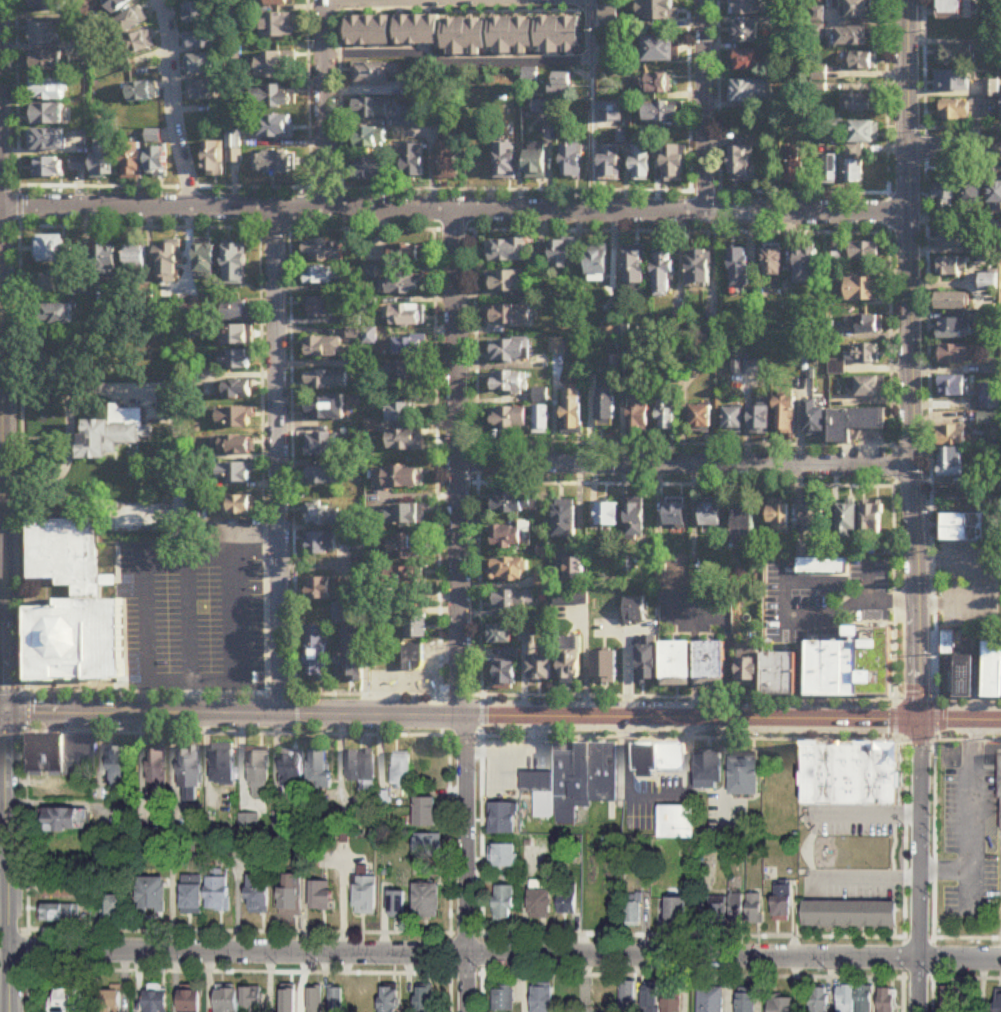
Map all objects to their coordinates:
building: (276, 3)
building: (46, 5)
building: (116, 5)
building: (747, 7)
building: (859, 9)
building: (949, 9)
building: (657, 10)
building: (198, 14)
building: (236, 16)
building: (131, 21)
building: (280, 26)
building: (417, 30)
building: (368, 31)
building: (48, 33)
building: (744, 33)
building: (510, 36)
building: (557, 36)
building: (464, 37)
building: (855, 37)
building: (201, 40)
building: (139, 44)
building: (658, 50)
building: (611, 56)
building: (951, 56)
building: (47, 62)
building: (745, 62)
building: (862, 62)
road: (455, 64)
building: (200, 65)
building: (277, 67)
building: (377, 74)
building: (952, 82)
building: (656, 85)
building: (991, 90)
building: (47, 91)
building: (203, 92)
building: (142, 93)
building: (750, 93)
building: (272, 98)
road: (325, 104)
road: (175, 105)
building: (859, 105)
road: (589, 107)
road: (703, 107)
building: (369, 110)
building: (611, 112)
building: (953, 112)
building: (662, 113)
building: (47, 115)
building: (276, 128)
building: (833, 128)
building: (370, 139)
building: (47, 141)
building: (235, 147)
building: (858, 147)
road: (310, 149)
road: (955, 150)
building: (214, 160)
building: (102, 161)
building: (446, 161)
building: (132, 162)
building: (156, 162)
building: (413, 162)
building: (505, 162)
building: (535, 162)
building: (571, 162)
building: (610, 162)
building: (640, 163)
building: (274, 164)
building: (673, 165)
building: (740, 165)
building: (793, 166)
building: (47, 168)
building: (371, 170)
building: (826, 171)
road: (19, 172)
road: (189, 187)
building: (971, 195)
building: (944, 197)
building: (995, 198)
road: (454, 212)
road: (258, 227)
road: (275, 228)
road: (455, 230)
road: (435, 231)
road: (889, 233)
building: (950, 239)
building: (52, 249)
building: (507, 250)
building: (322, 252)
building: (863, 252)
building: (562, 254)
building: (404, 255)
building: (106, 258)
building: (136, 259)
building: (205, 261)
building: (538, 261)
building: (833, 262)
building: (168, 263)
building: (597, 263)
building: (773, 263)
building: (234, 264)
building: (635, 266)
building: (806, 267)
building: (739, 268)
building: (953, 268)
building: (699, 269)
building: (663, 275)
building: (320, 277)
building: (55, 282)
building: (989, 283)
building: (509, 284)
building: (401, 285)
building: (862, 290)
building: (952, 303)
building: (319, 309)
building: (237, 312)
building: (56, 315)
building: (510, 315)
building: (406, 316)
building: (867, 325)
building: (955, 330)
building: (802, 332)
building: (237, 336)
building: (558, 346)
building: (323, 348)
building: (409, 349)
building: (507, 351)
building: (862, 355)
building: (955, 356)
road: (912, 360)
building: (235, 361)
building: (752, 366)
building: (404, 373)
building: (325, 381)
building: (509, 383)
building: (952, 387)
building: (867, 388)
building: (235, 390)
road: (930, 395)
building: (989, 397)
building: (606, 408)
building: (324, 409)
building: (542, 412)
building: (572, 412)
building: (398, 413)
building: (640, 415)
building: (667, 416)
building: (785, 417)
building: (235, 418)
building: (701, 418)
building: (813, 419)
building: (508, 420)
building: (733, 420)
building: (760, 420)
building: (988, 420)
road: (71, 423)
building: (854, 424)
building: (372, 427)
building: (113, 434)
building: (951, 436)
building: (406, 440)
building: (324, 445)
building: (234, 447)
road: (281, 462)
road: (479, 462)
building: (950, 463)
road: (459, 465)
road: (687, 465)
road: (895, 465)
road: (180, 469)
building: (989, 470)
building: (235, 474)
building: (397, 478)
building: (323, 479)
road: (893, 487)
building: (954, 492)
building: (511, 506)
building: (240, 507)
building: (324, 516)
building: (398, 516)
building: (608, 516)
building: (711, 516)
building: (675, 518)
building: (813, 518)
building: (778, 519)
building: (870, 519)
building: (635, 521)
building: (846, 522)
building: (565, 523)
building: (743, 523)
building: (962, 528)
building: (508, 538)
building: (322, 544)
building: (406, 548)
building: (545, 556)
building: (575, 571)
building: (512, 572)
building: (821, 576)
road: (990, 577)
building: (406, 579)
building: (111, 581)
building: (543, 583)
parking lot: (970, 586)
building: (325, 590)
road: (146, 591)
building: (514, 601)
road: (849, 607)
building: (71, 609)
road: (5, 611)
building: (339, 615)
building: (634, 617)
building: (416, 628)
road: (239, 629)
building: (526, 635)
building: (501, 636)
building: (317, 653)
building: (413, 658)
building: (352, 659)
building: (571, 661)
building: (647, 661)
building: (875, 662)
building: (710, 663)
building: (676, 666)
building: (604, 669)
building: (832, 669)
building: (539, 670)
building: (748, 670)
building: (507, 671)
building: (992, 671)
road: (626, 674)
building: (778, 675)
building: (963, 677)
road: (476, 695)
road: (932, 698)
road: (297, 699)
road: (29, 712)
road: (500, 717)
traffic signals: (922, 721)
road: (516, 749)
building: (56, 752)
building: (658, 759)
building: (223, 767)
building: (190, 768)
building: (293, 768)
building: (363, 769)
building: (118, 770)
building: (157, 770)
building: (320, 770)
building: (402, 770)
building: (708, 772)
building: (854, 774)
building: (260, 775)
building: (744, 777)
building: (574, 781)
road: (660, 792)
building: (1000, 801)
road: (973, 808)
building: (427, 813)
building: (502, 818)
building: (64, 820)
building: (675, 822)
parking lot: (972, 830)
road: (935, 838)
road: (921, 839)
building: (426, 845)
building: (503, 855)
road: (469, 864)
road: (865, 874)
road: (4, 883)
building: (59, 889)
building: (150, 894)
building: (191, 894)
building: (217, 894)
building: (258, 894)
building: (290, 894)
building: (365, 894)
building: (320, 895)
building: (566, 899)
building: (426, 900)
building: (503, 902)
building: (782, 902)
building: (396, 903)
building: (112, 907)
building: (735, 908)
building: (754, 908)
building: (674, 910)
building: (717, 910)
building: (59, 913)
building: (632, 914)
building: (850, 914)
road: (450, 932)
road: (905, 933)
road: (28, 951)
road: (505, 954)
road: (236, 972)
road: (693, 974)
road: (451, 975)
road: (932, 975)
road: (949, 975)
road: (919, 984)
building: (628, 995)
building: (503, 997)
building: (651, 997)
building: (155, 998)
building: (952, 998)
building: (253, 999)
building: (336, 999)
building: (389, 999)
building: (424, 999)
building: (542, 999)
building: (710, 999)
building: (846, 999)
building: (864, 999)
building: (64, 1000)
building: (109, 1000)
building: (226, 1000)
building: (314, 1000)
building: (819, 1000)
building: (887, 1000)
building: (189, 1001)
building: (746, 1002)
building: (999, 1002)
building: (781, 1005)

